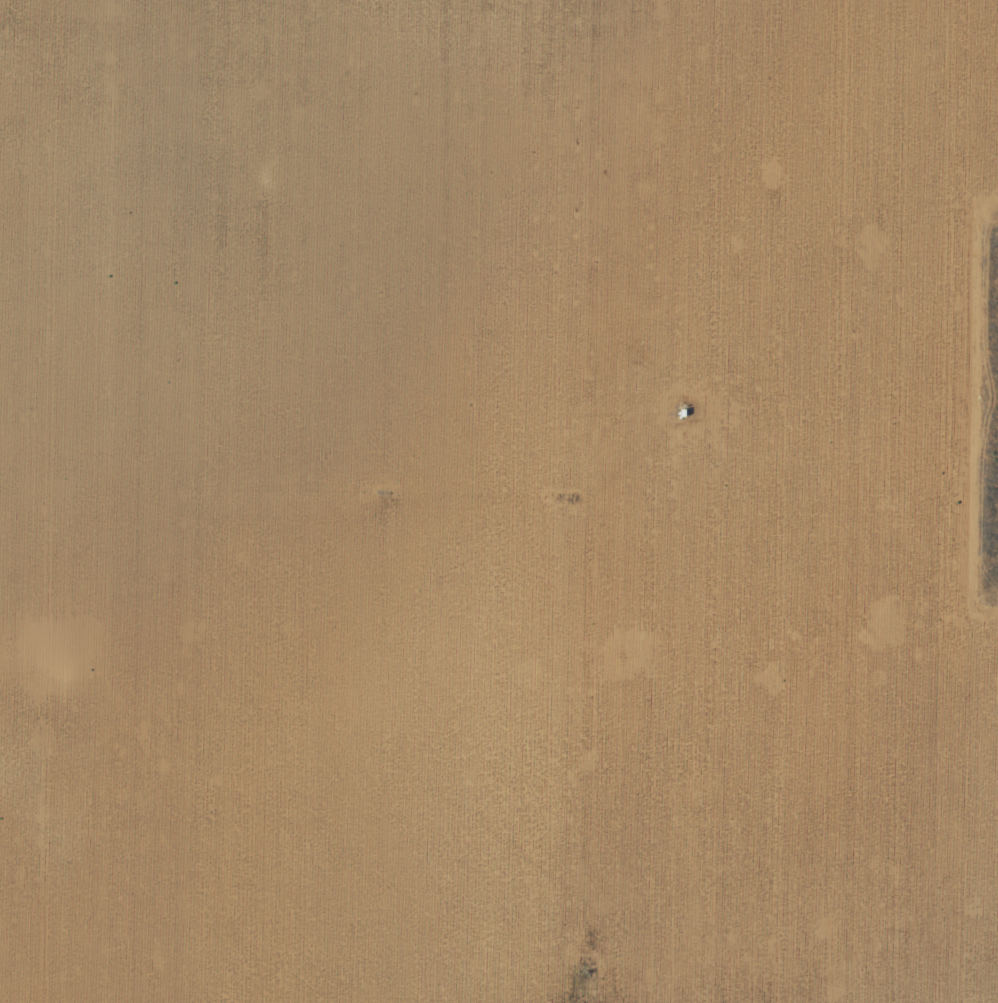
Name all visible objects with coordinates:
road: (540, 547)

